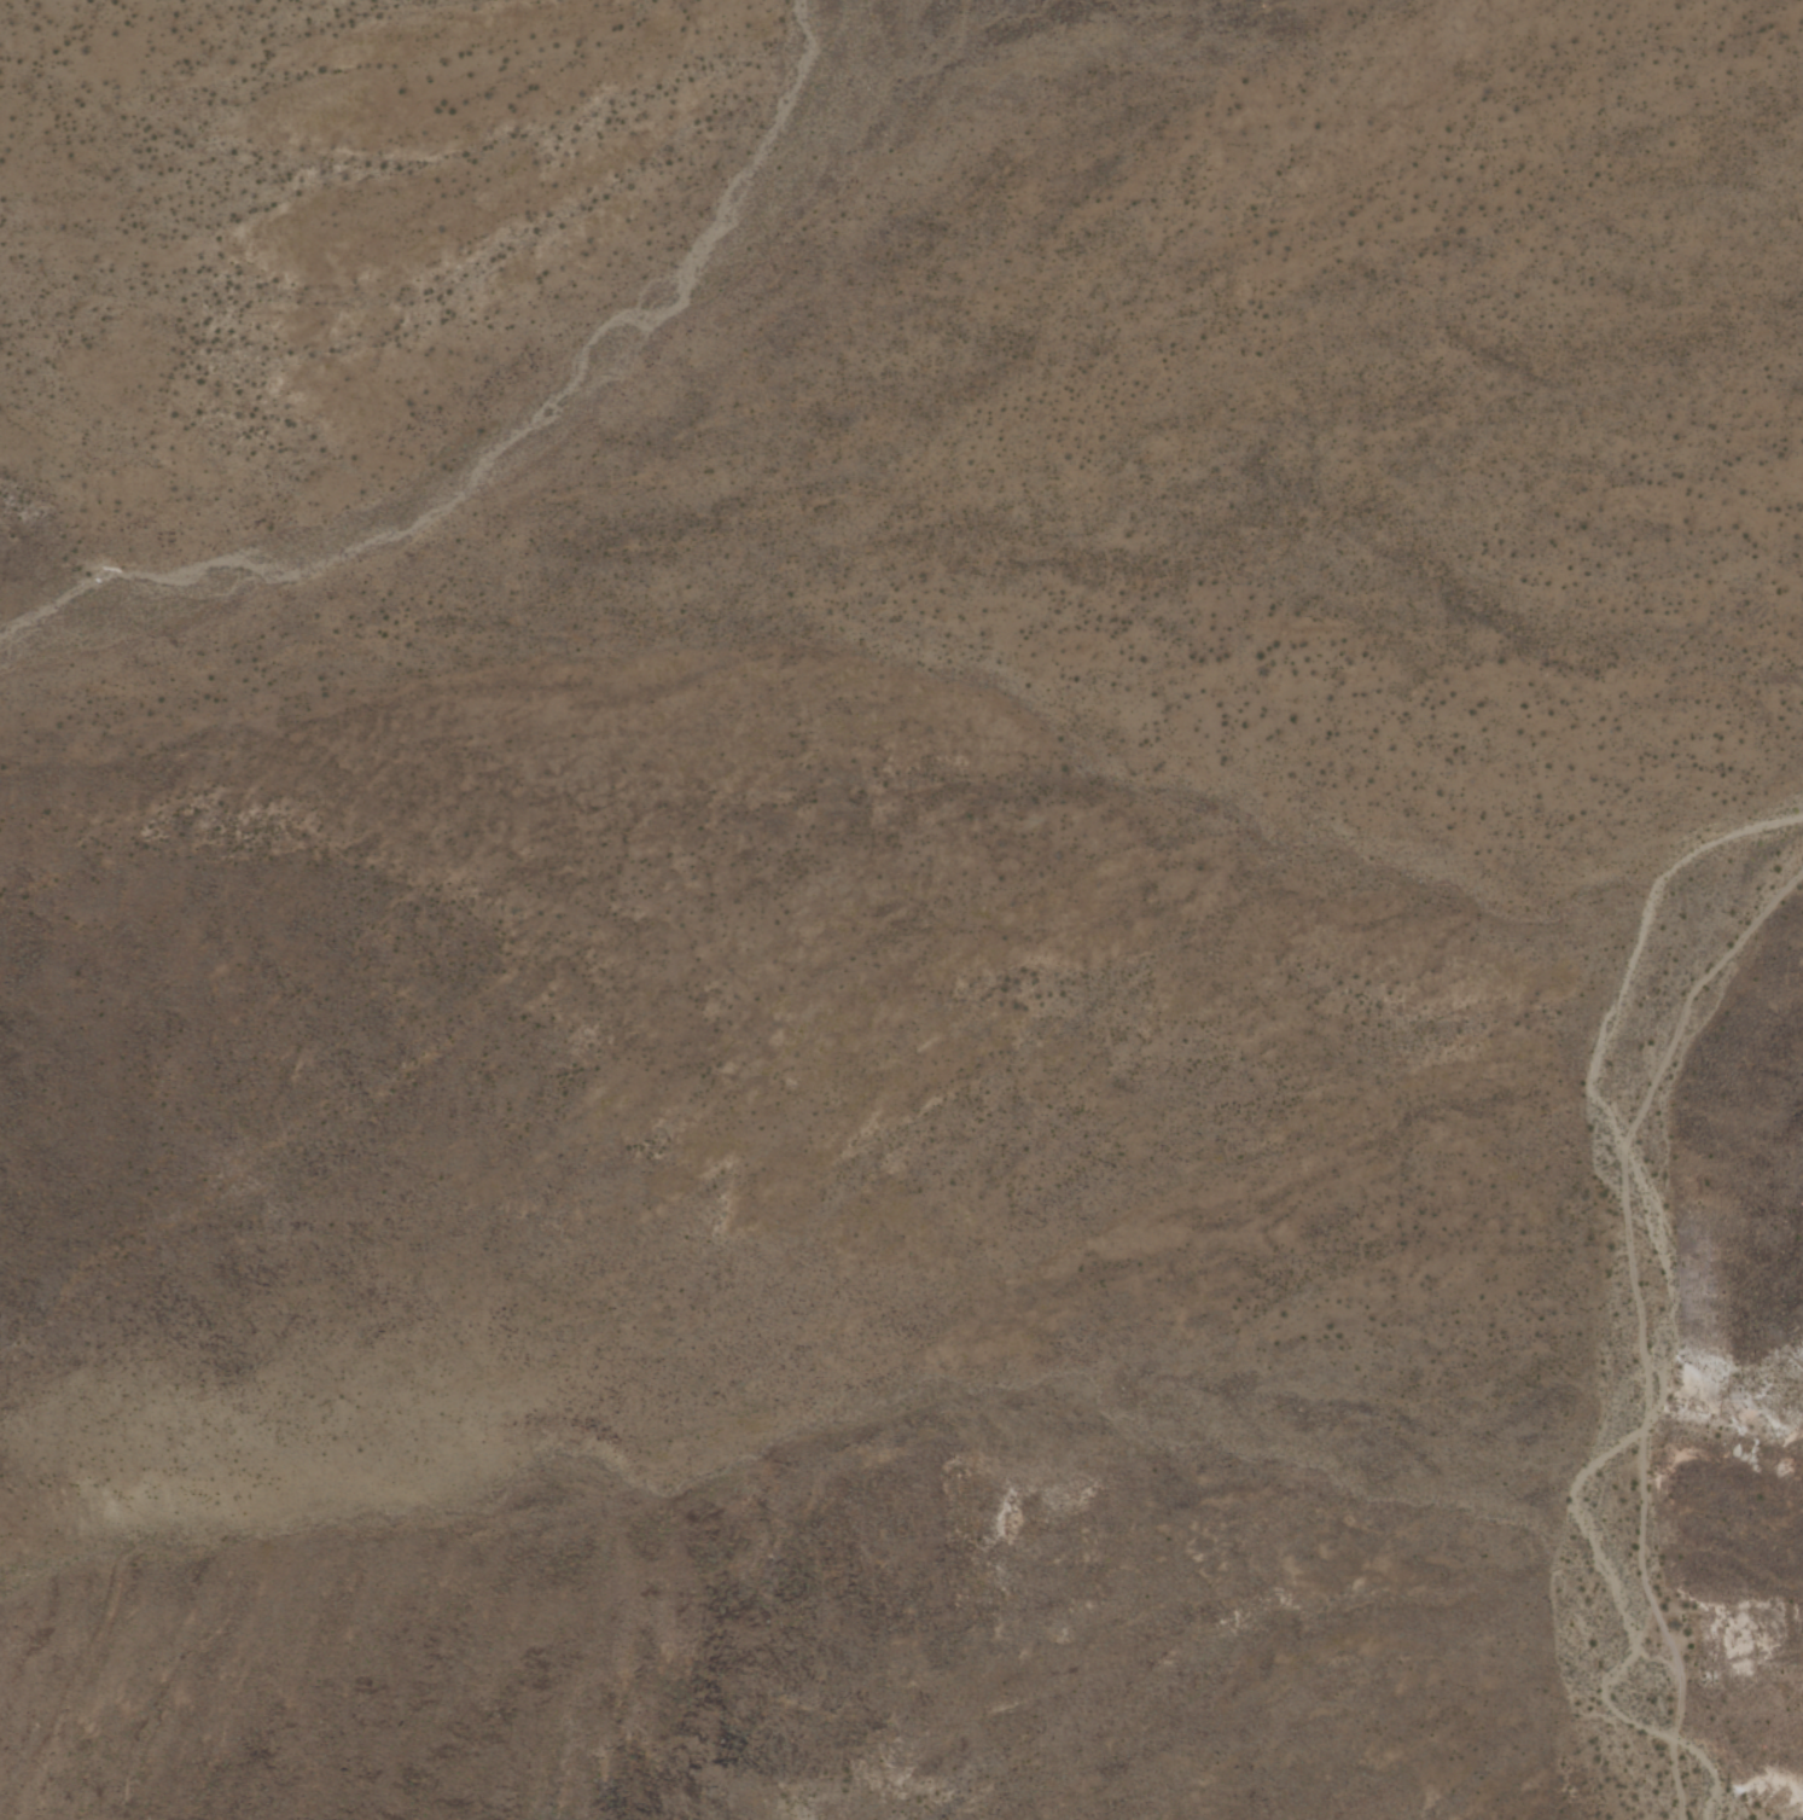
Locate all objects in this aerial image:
road: (1680, 1734)

